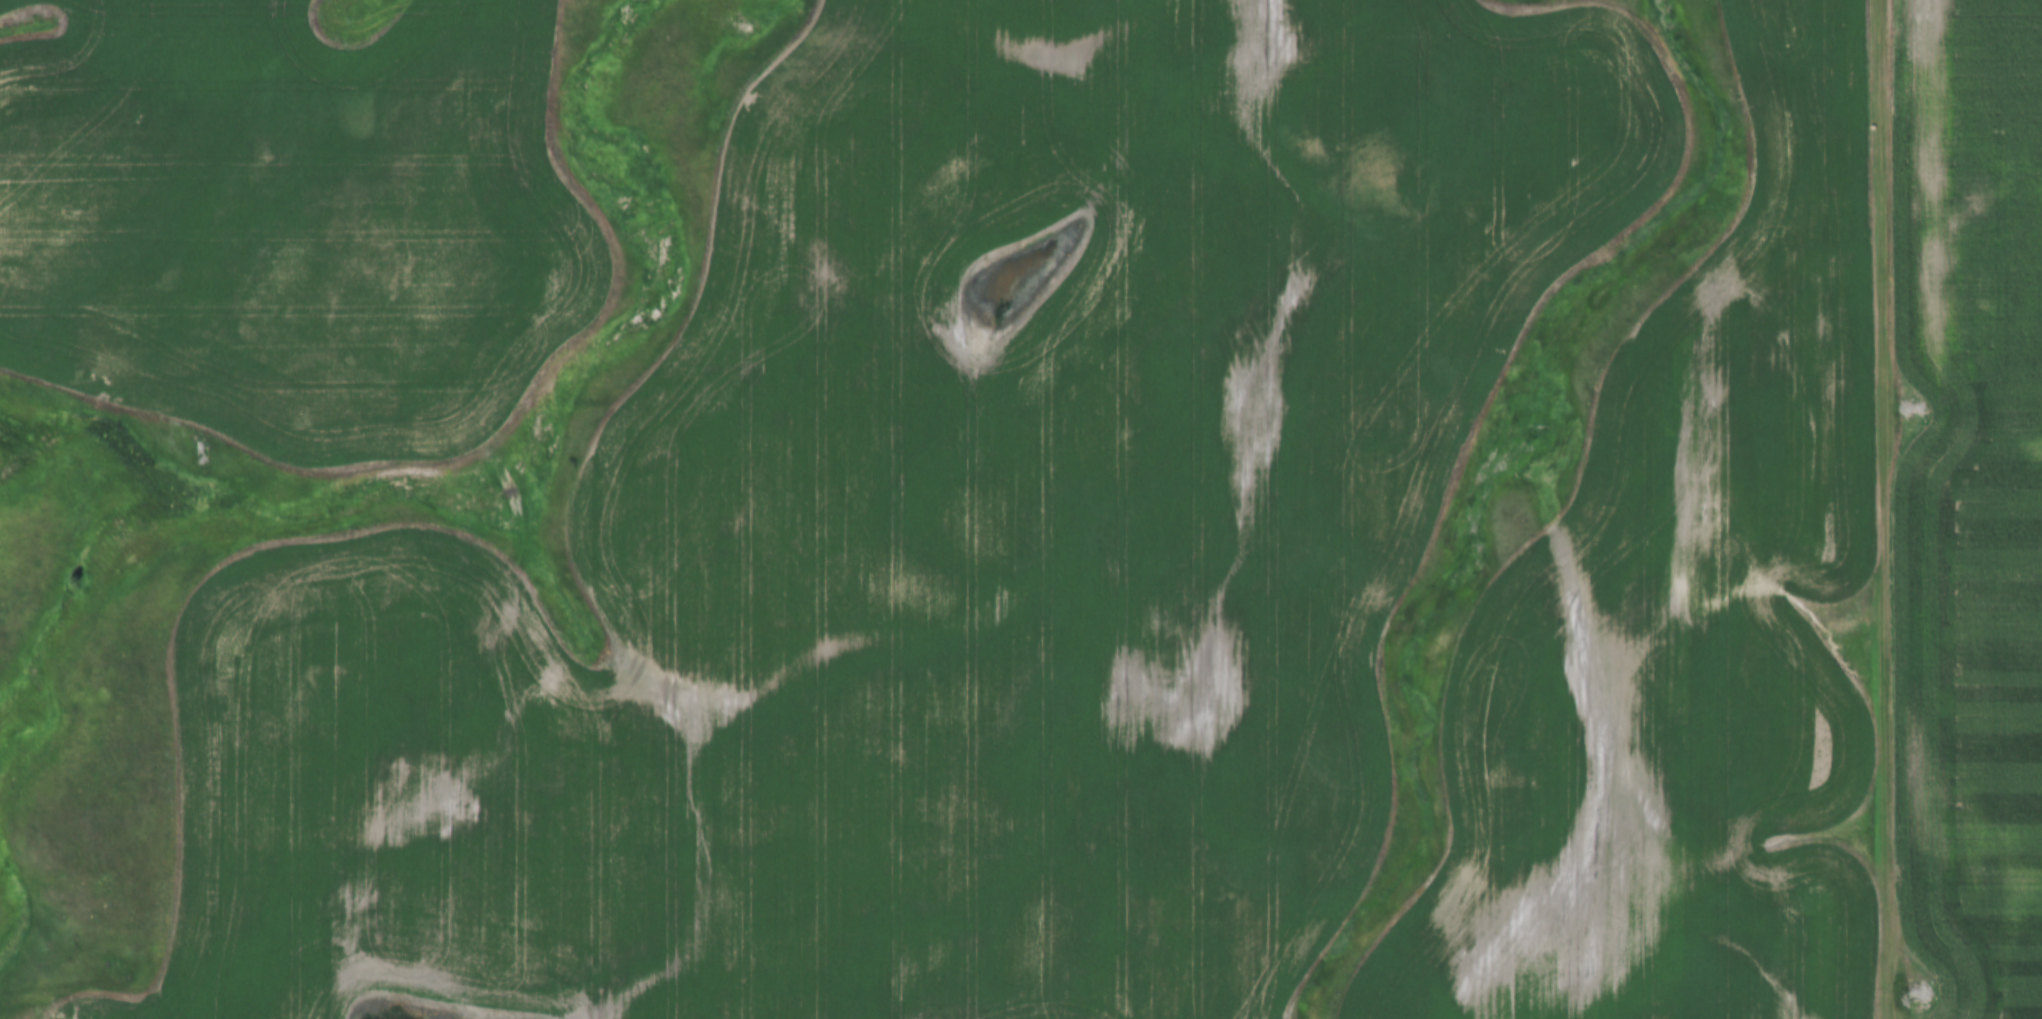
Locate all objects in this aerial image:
road: (1857, 112)

